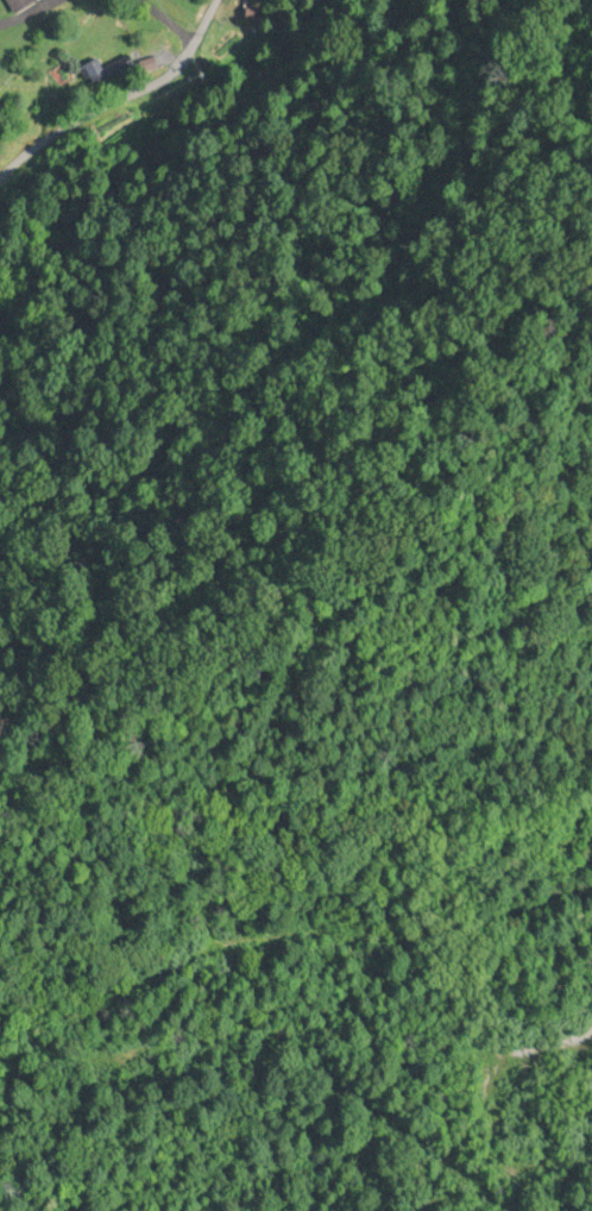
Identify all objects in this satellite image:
road: (103, 86)

